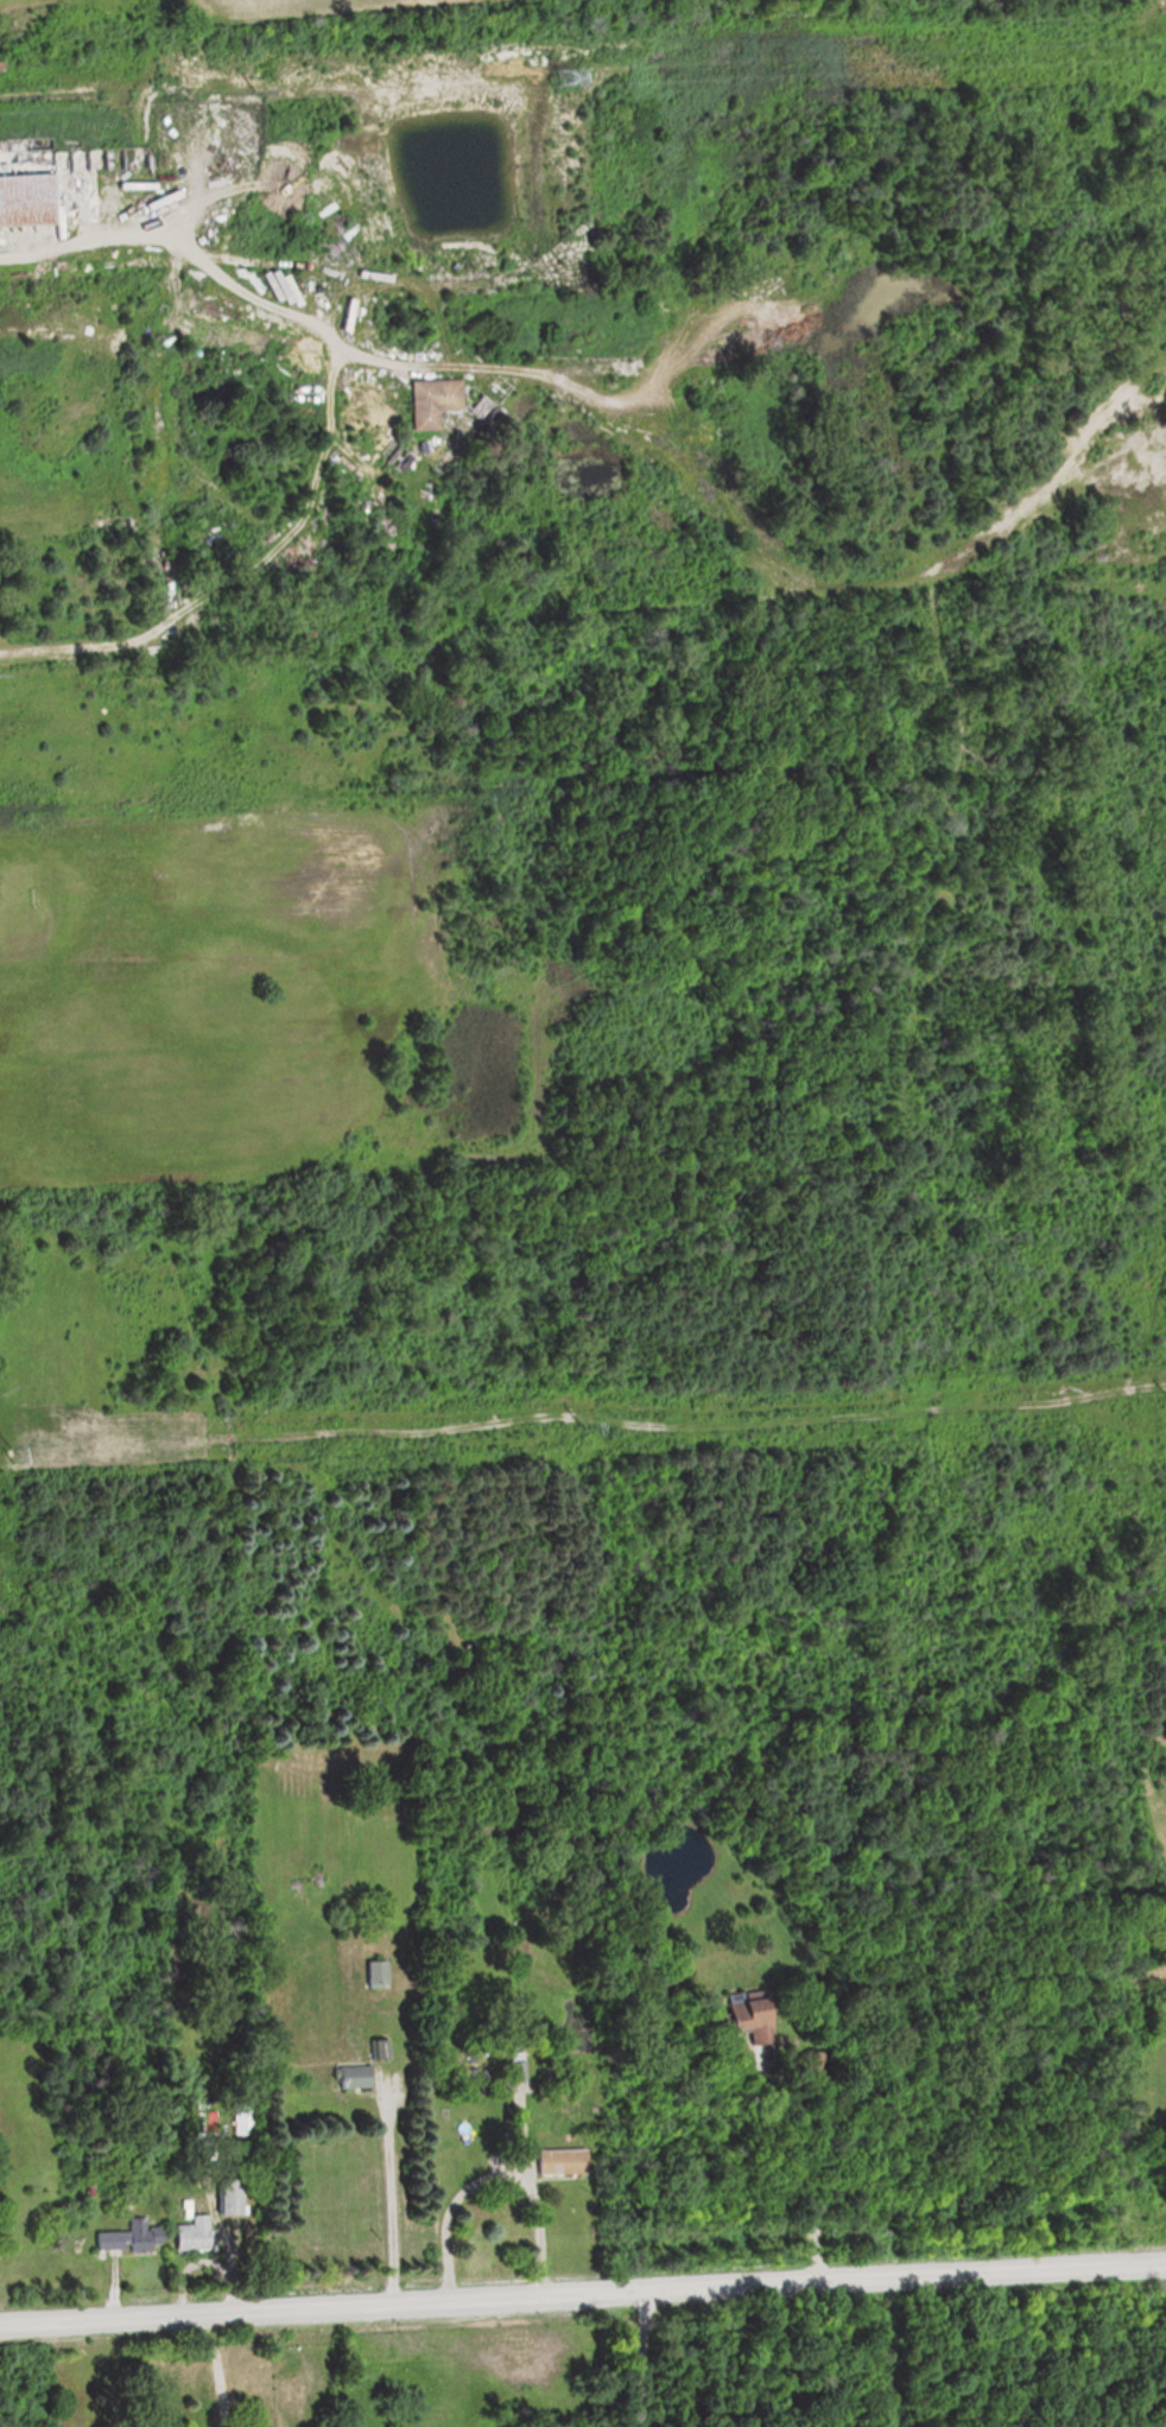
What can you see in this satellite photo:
road: (1159, 27)
power tower: (557, 74)
building: (32, 201)
building: (423, 400)
road: (331, 418)
road: (622, 655)
power tower: (583, 1430)
power tower: (20, 1456)
building: (373, 1975)
building: (1136, 2004)
building: (747, 2020)
building: (375, 2049)
building: (349, 2077)
building: (241, 2117)
building: (195, 2128)
building: (559, 2162)
road: (494, 2174)
road: (828, 2190)
building: (220, 2197)
road: (386, 2201)
building: (188, 2233)
building: (126, 2236)
road: (582, 2301)
road: (654, 2362)
road: (218, 2375)

